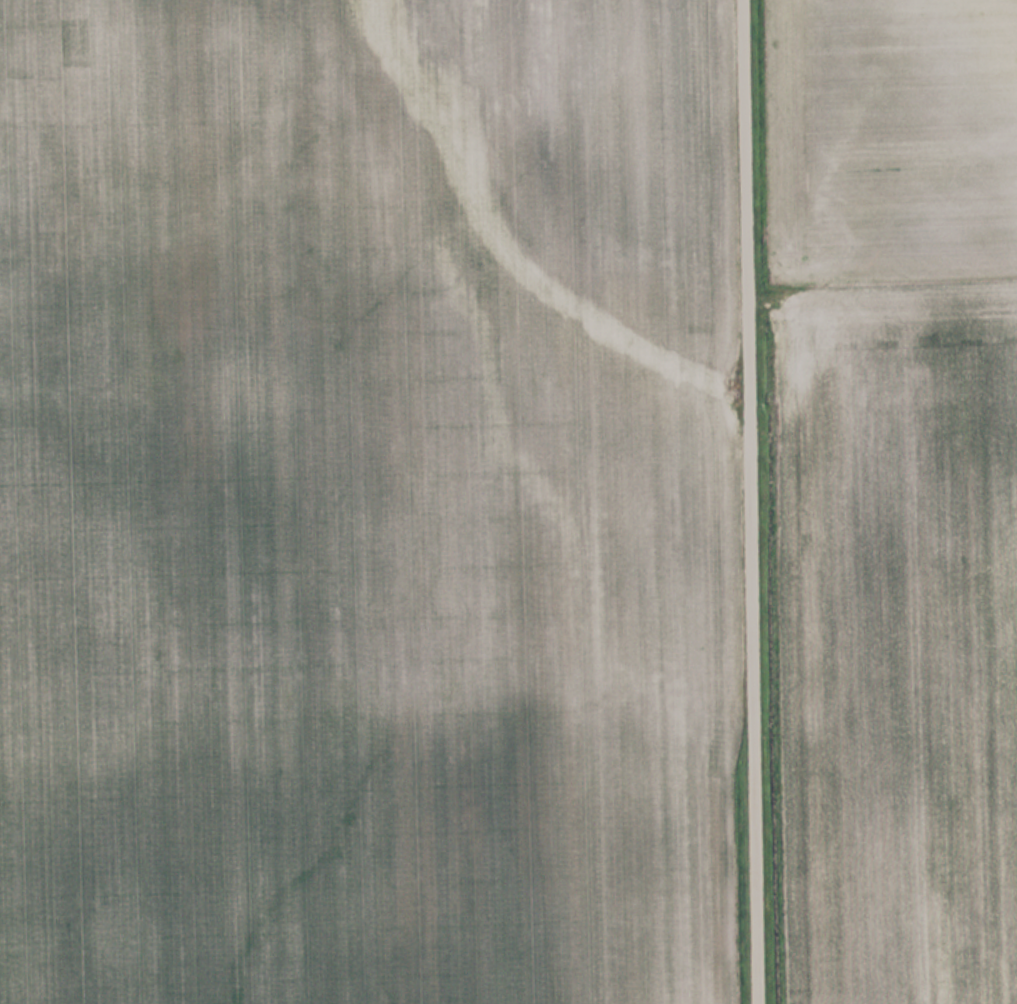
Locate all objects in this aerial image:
road: (758, 502)

